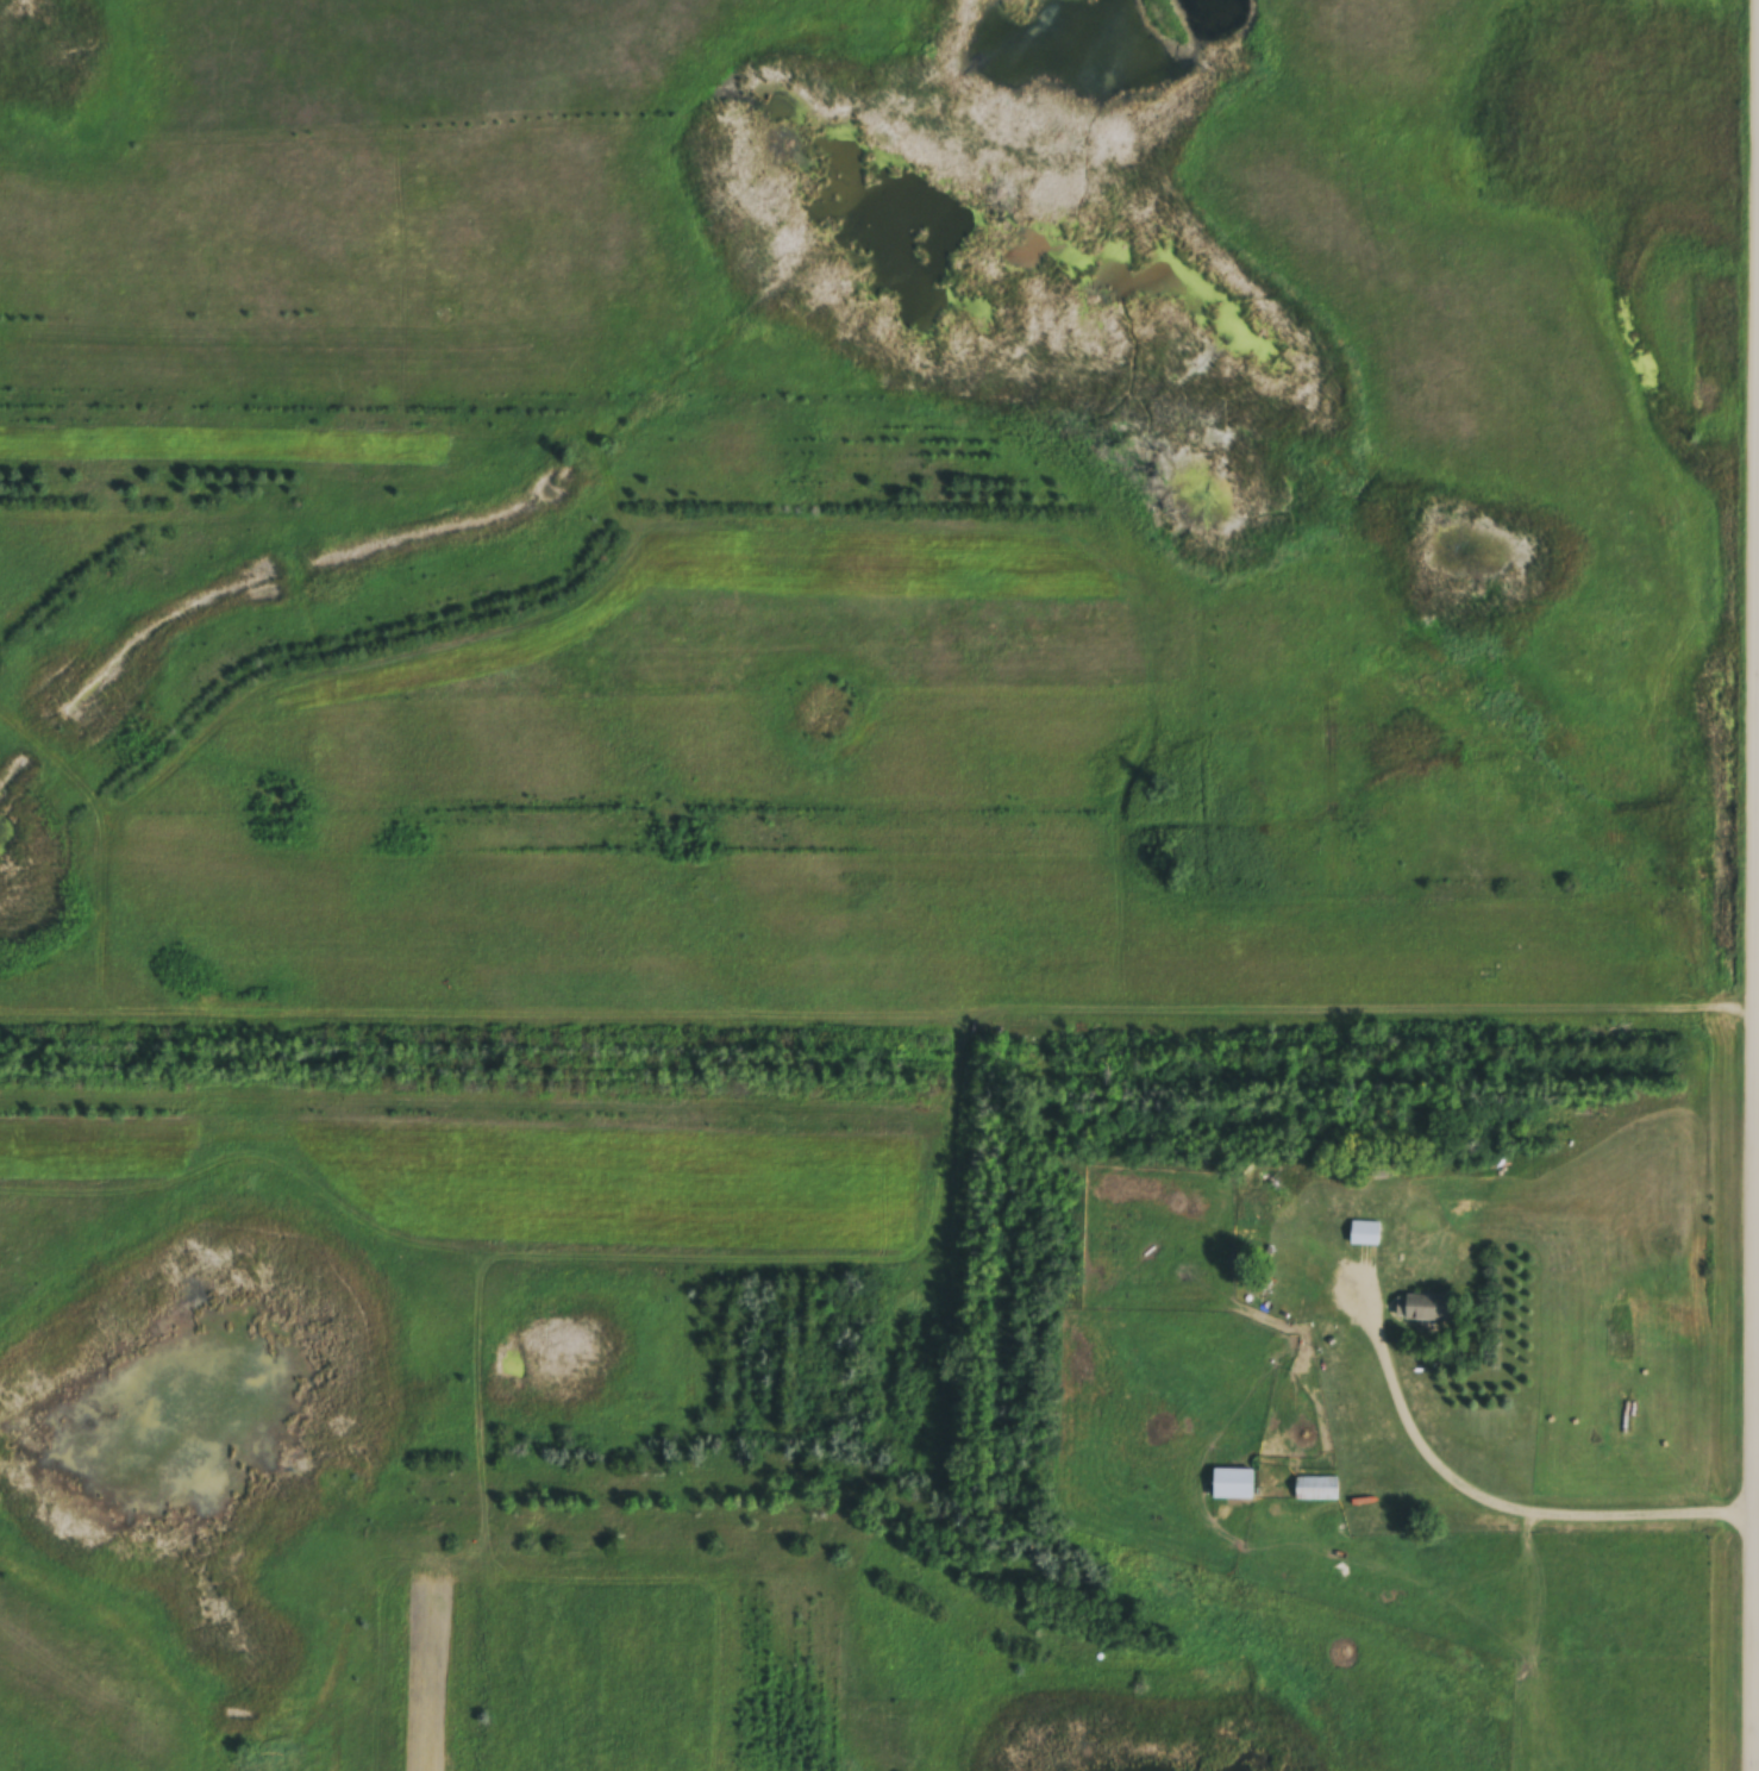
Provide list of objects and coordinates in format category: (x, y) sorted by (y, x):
building: (1285, 1207)
building: (1364, 1234)
building: (1427, 1308)
road: (1757, 1322)
building: (1233, 1487)
building: (1315, 1490)
road: (1477, 1492)

